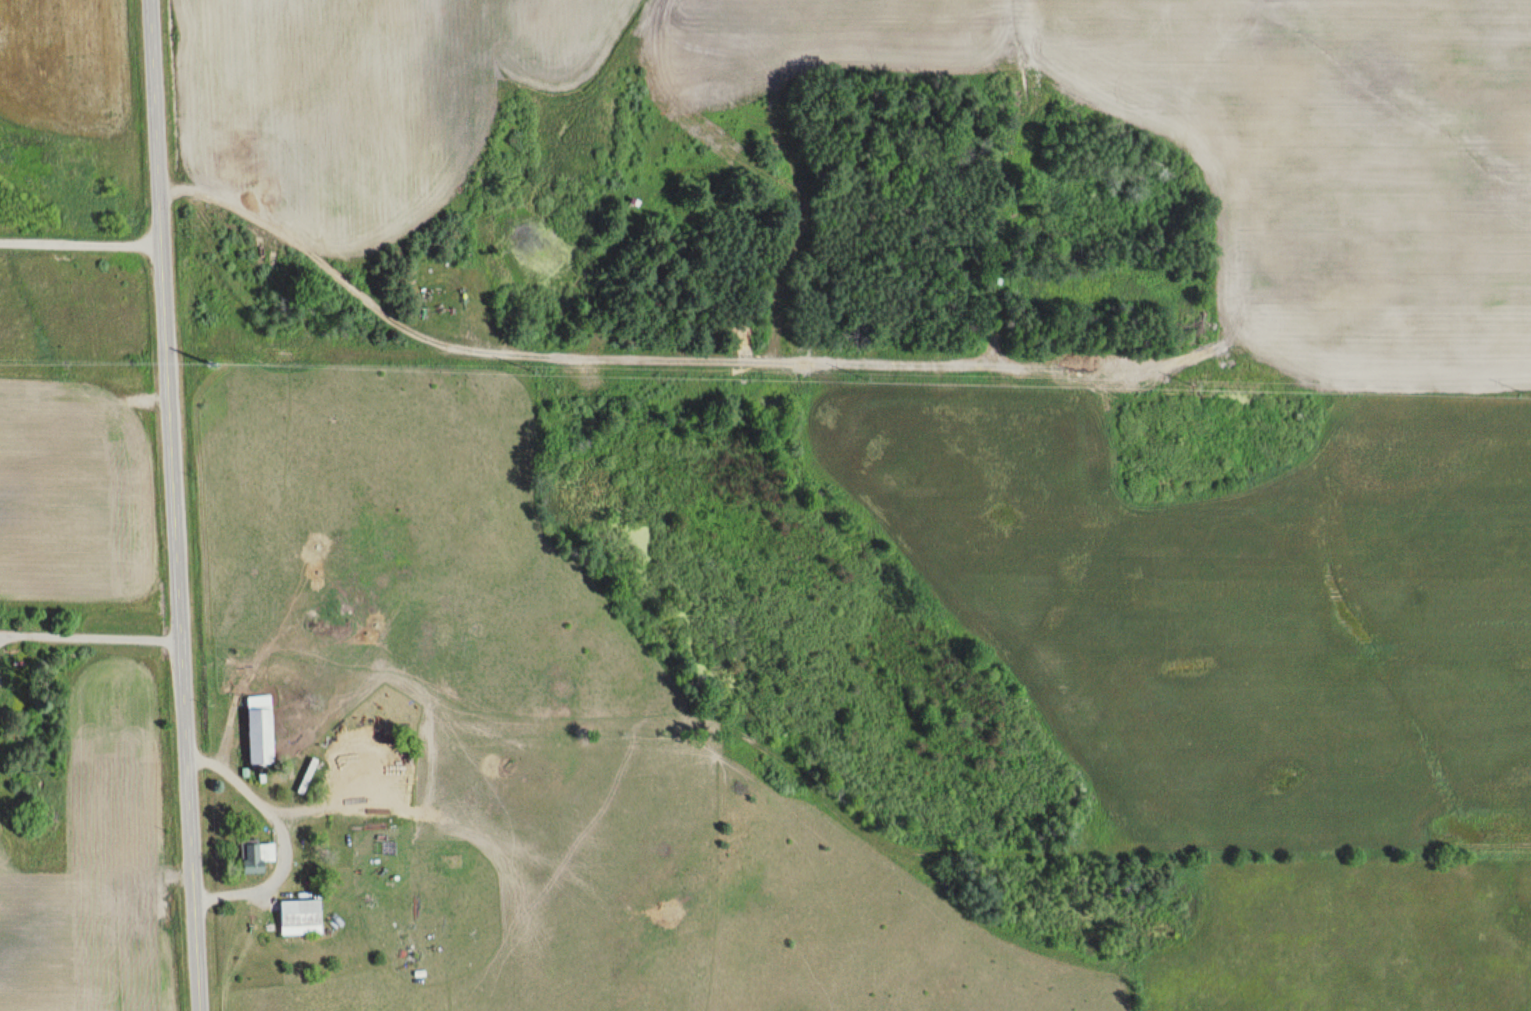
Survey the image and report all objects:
road: (170, 505)
building: (262, 736)
building: (259, 857)
building: (302, 918)

